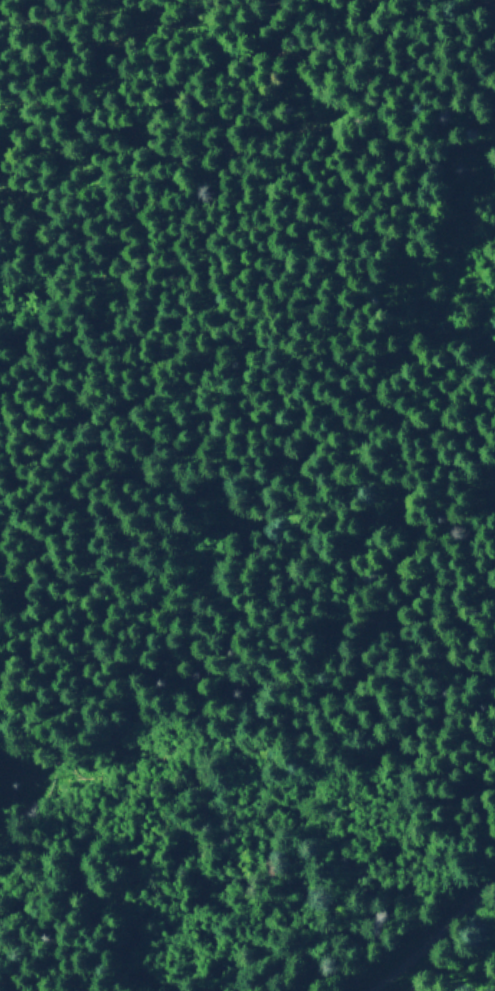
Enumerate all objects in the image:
road: (239, 807)

